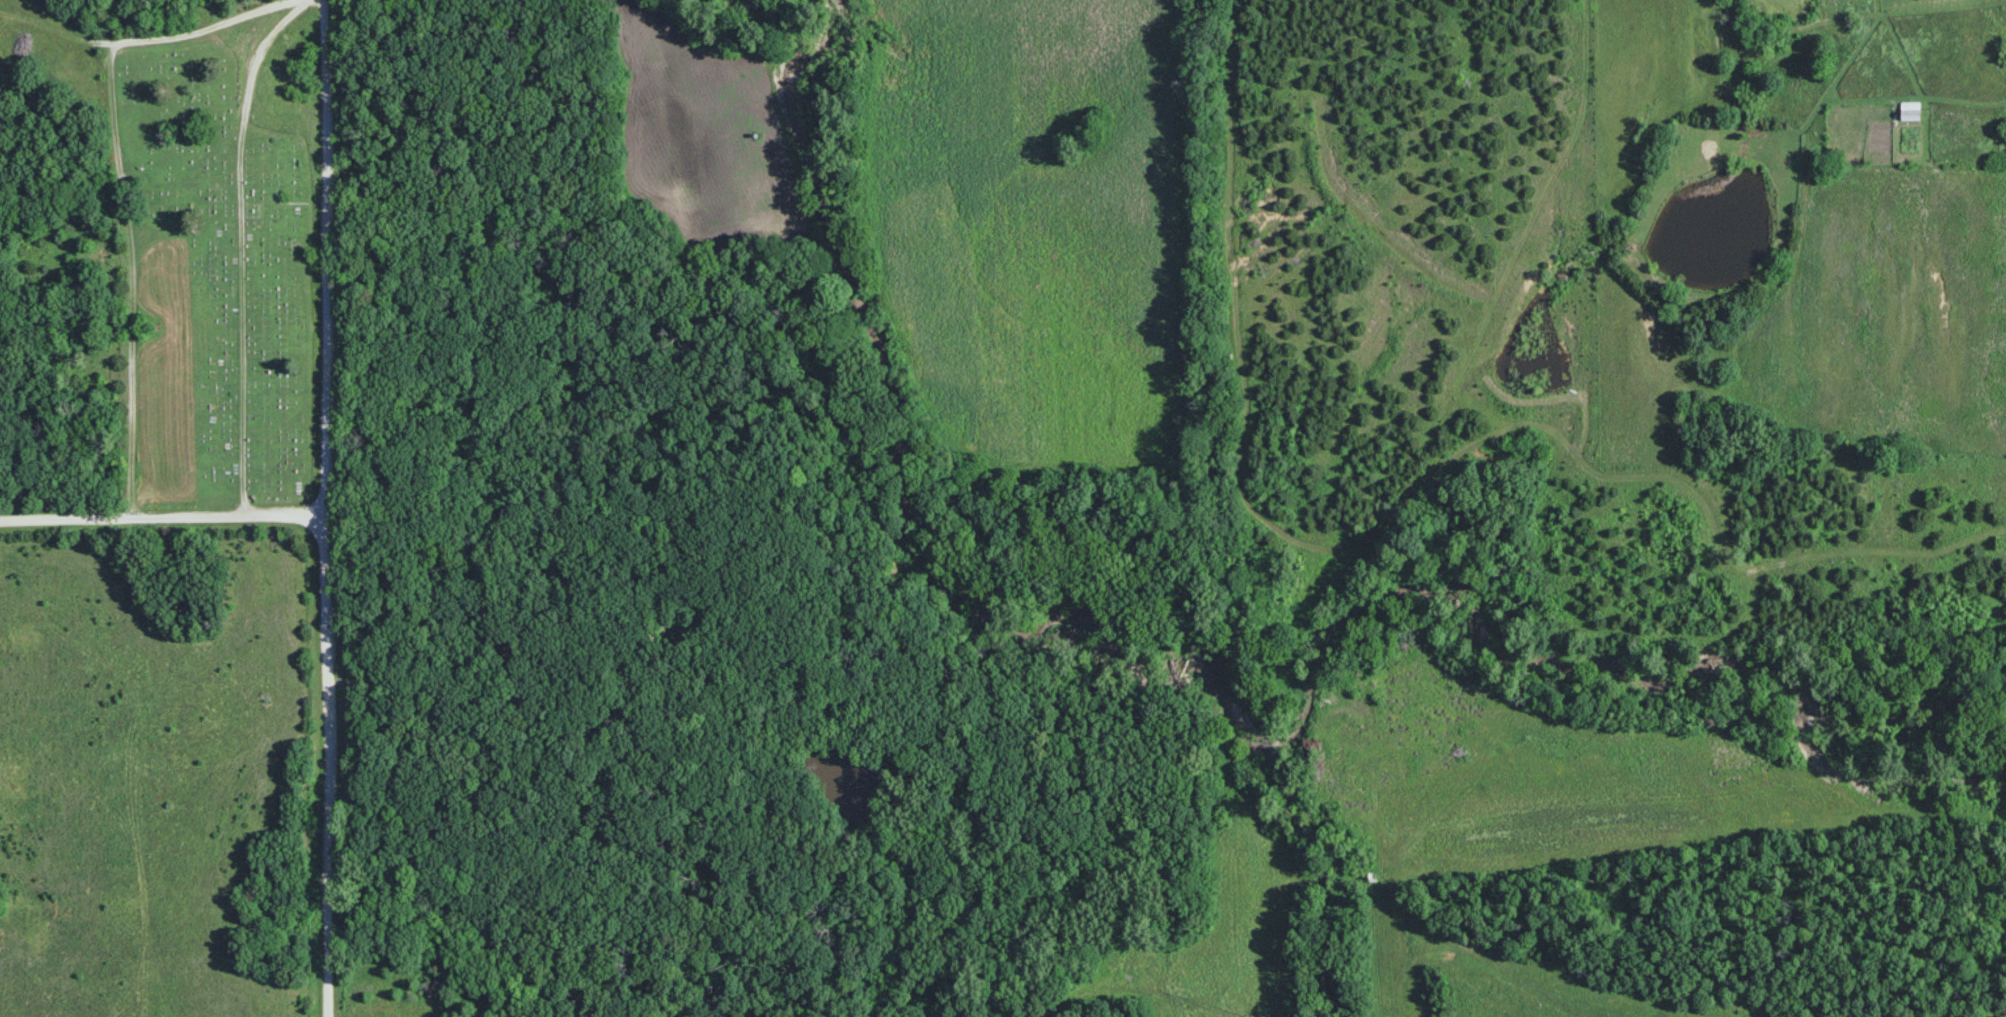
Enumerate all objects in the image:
building: (1911, 111)
road: (122, 184)
park: (234, 247)
road: (325, 508)
road: (162, 514)

